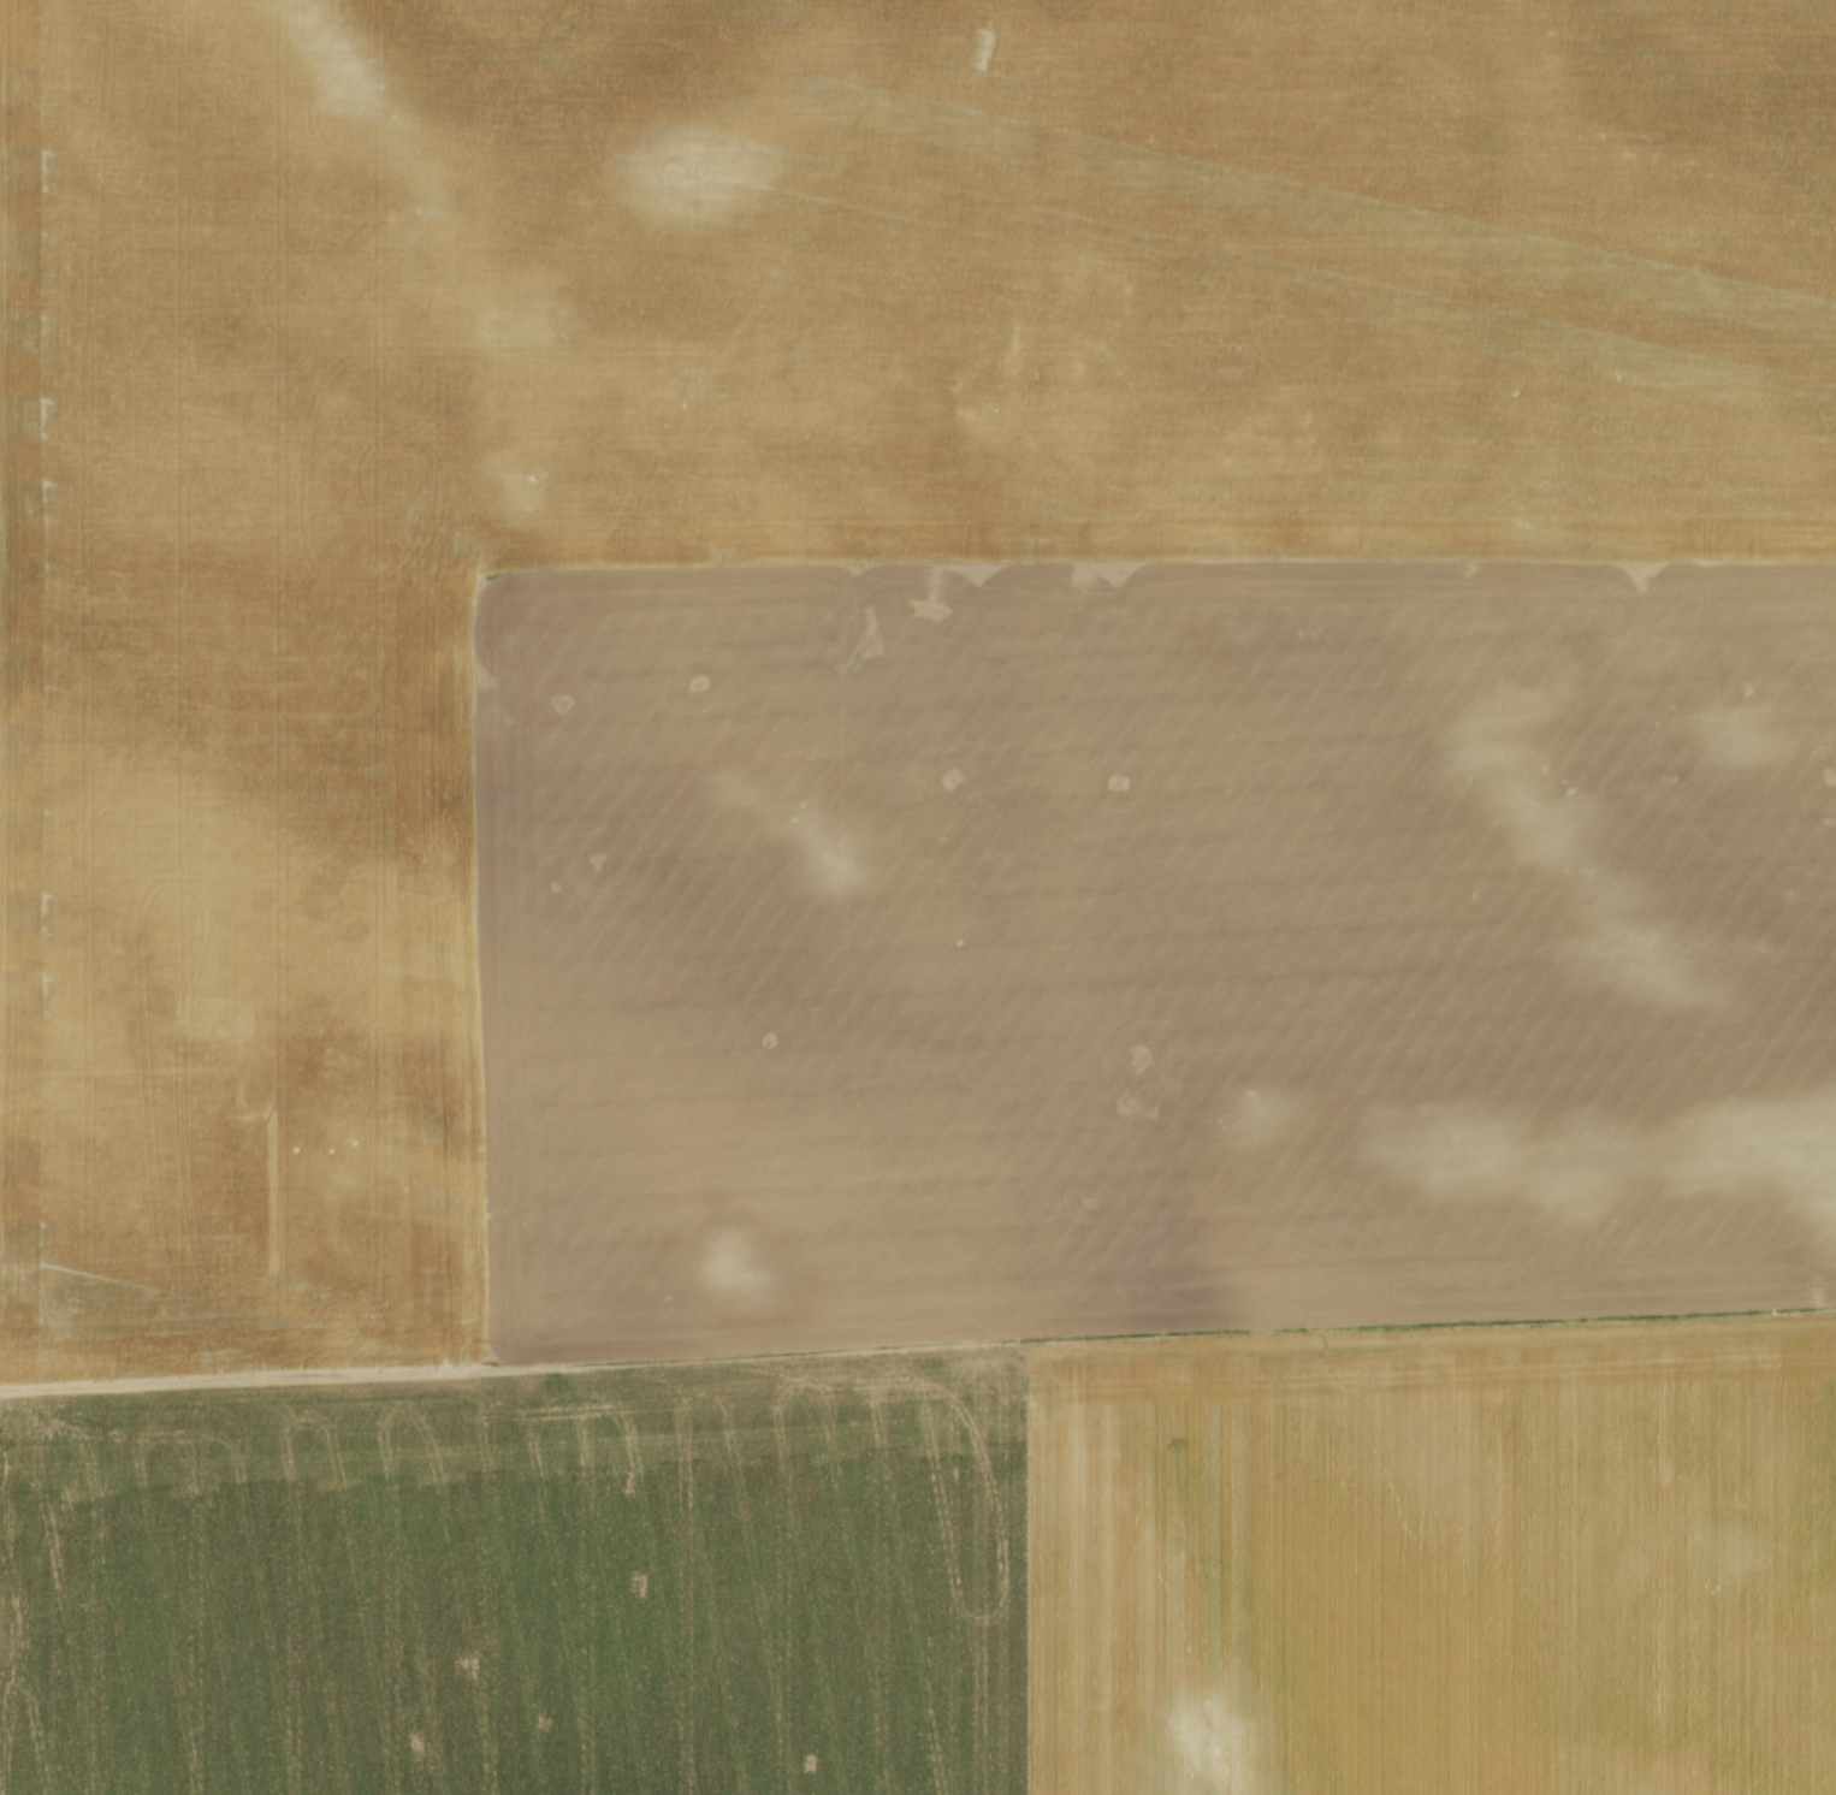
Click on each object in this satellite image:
crop: (908, 669)
road: (918, 1346)
crop: (944, 1572)

